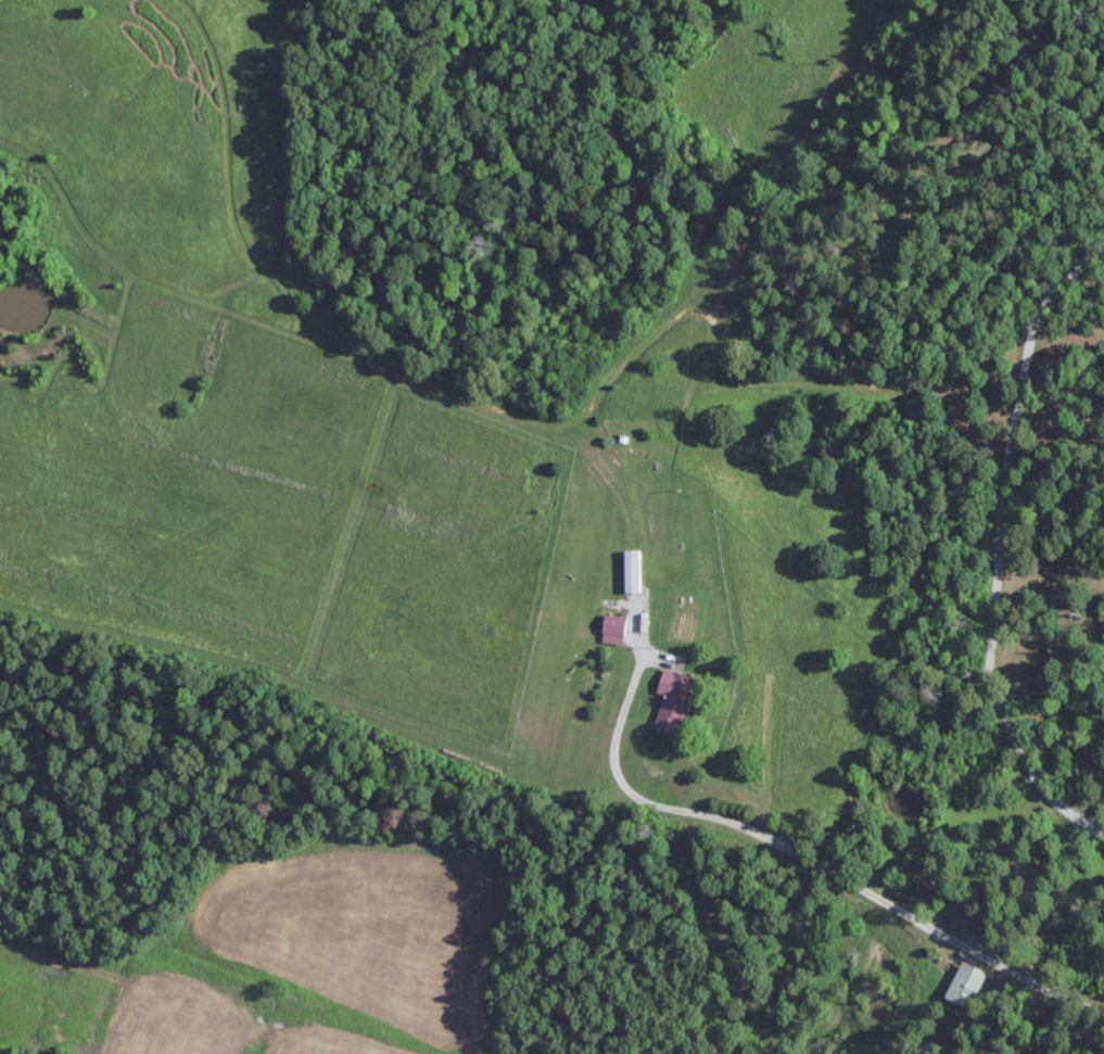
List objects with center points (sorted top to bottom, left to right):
road: (1004, 548)
building: (637, 572)
building: (619, 631)
building: (680, 701)
road: (801, 851)
building: (973, 986)

